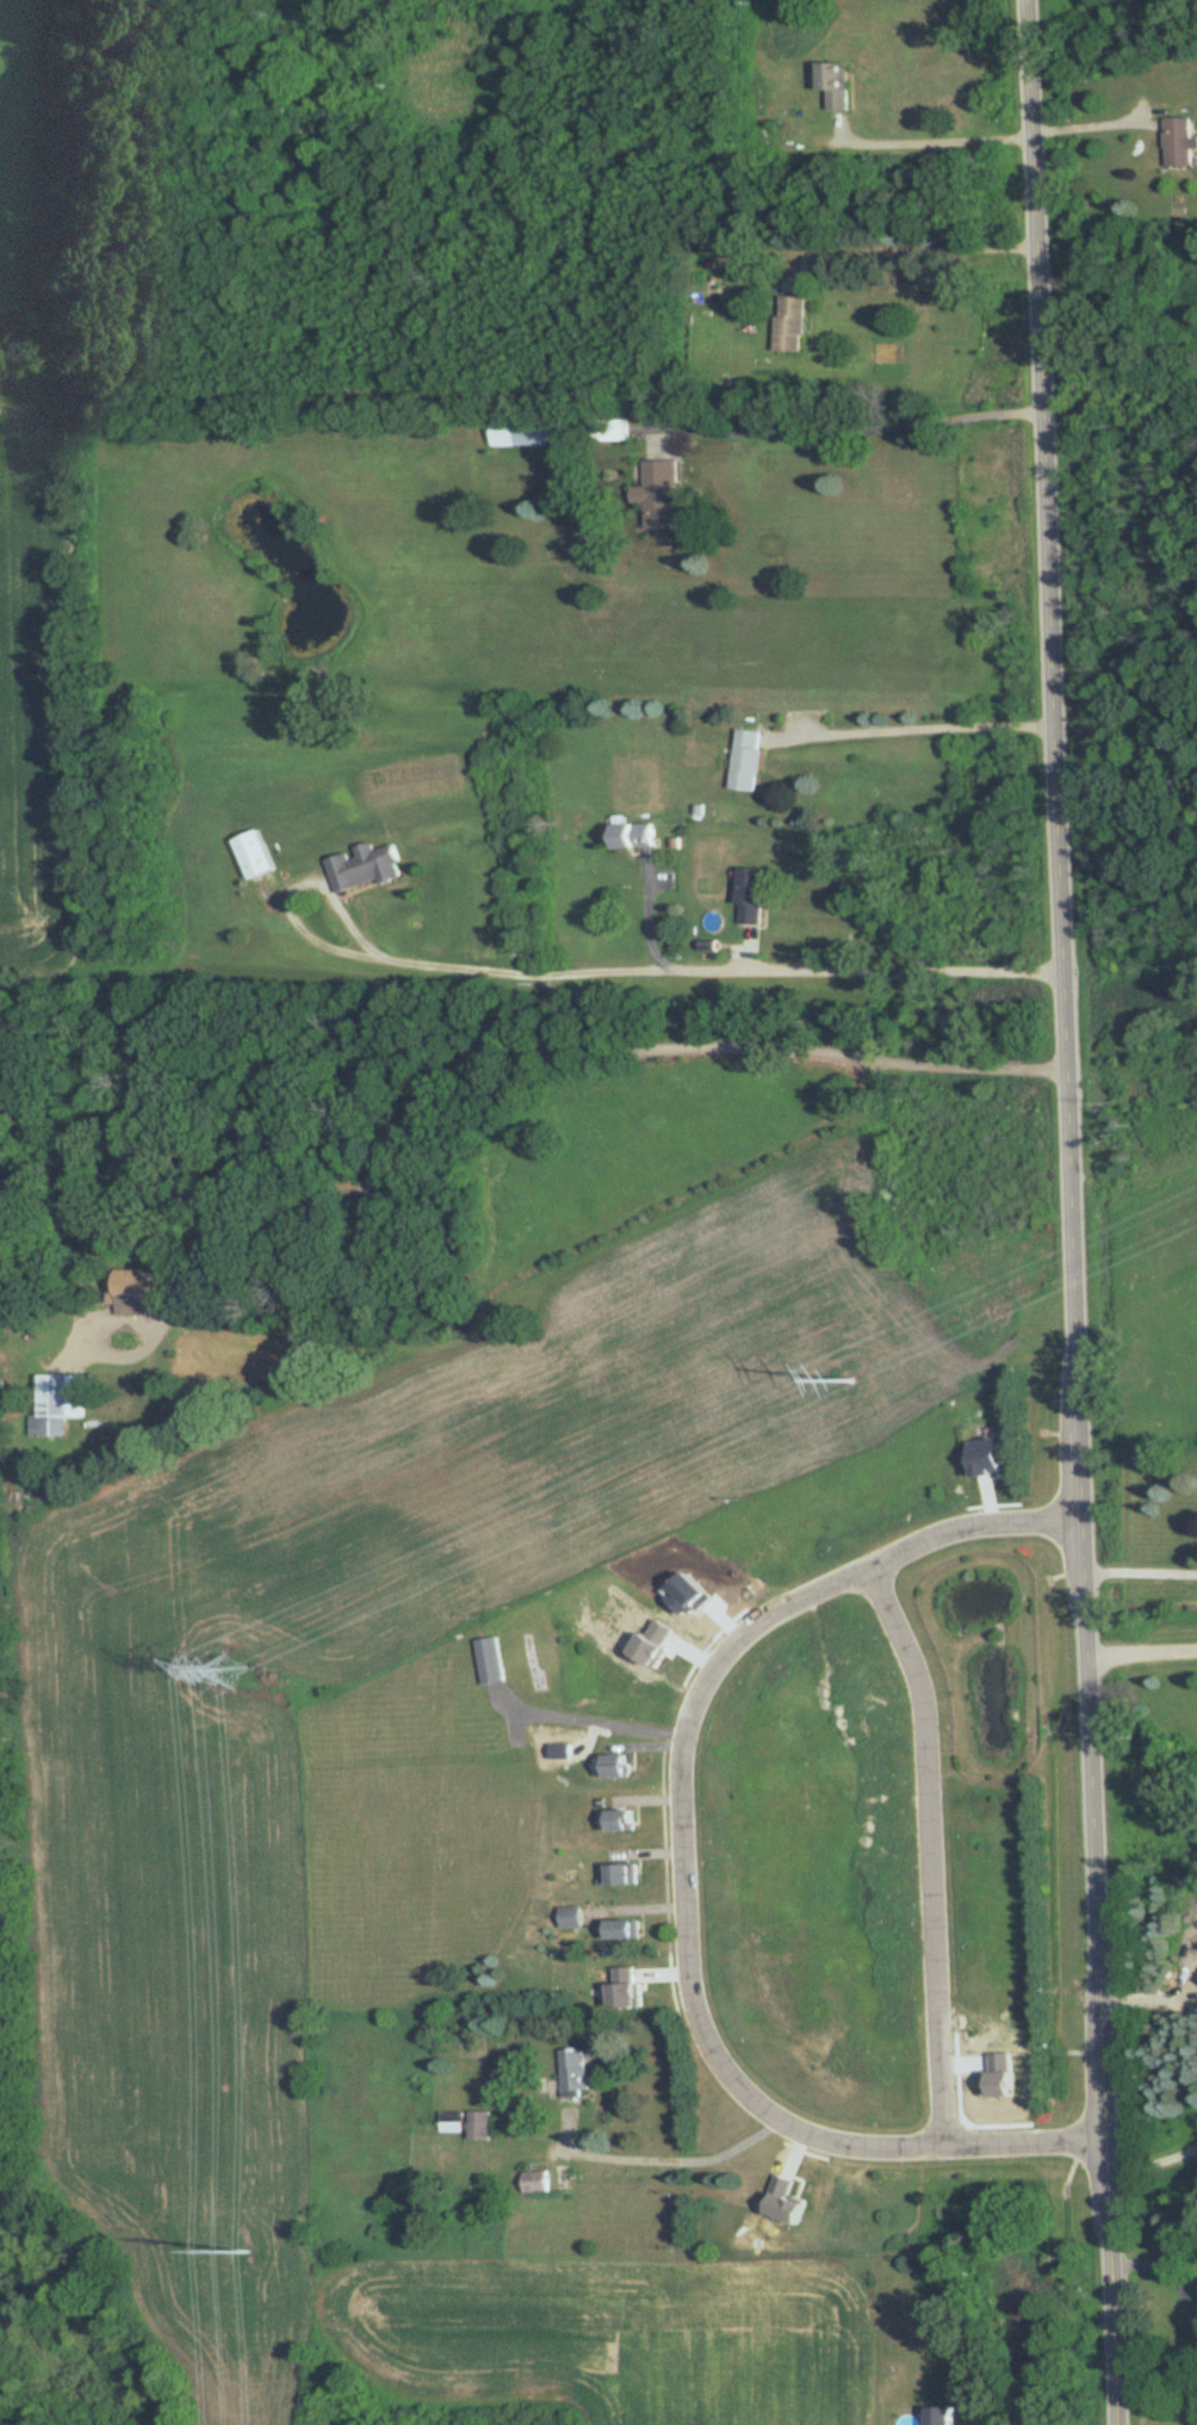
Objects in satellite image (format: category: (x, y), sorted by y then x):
building: (831, 82)
road: (1091, 129)
road: (930, 138)
building: (1178, 142)
road: (910, 245)
building: (788, 324)
road: (862, 426)
building: (516, 432)
building: (656, 496)
road: (916, 728)
building: (751, 760)
building: (637, 836)
building: (367, 867)
building: (755, 895)
road: (683, 965)
road: (538, 1045)
road: (1072, 1212)
building: (142, 1292)
power tower: (848, 1380)
building: (60, 1404)
road: (1145, 1590)
road: (1146, 1653)
building: (491, 1662)
power tower: (232, 1671)
road: (601, 1719)
building: (612, 1765)
building: (618, 1819)
road: (932, 1850)
road: (684, 1869)
building: (618, 1874)
building: (568, 1916)
building: (614, 1929)
building: (572, 2072)
building: (451, 2122)
building: (479, 2126)
road: (676, 2158)
road: (1155, 2163)
building: (535, 2178)
power tower: (248, 2251)
road: (1142, 2268)
road: (1182, 2279)
road: (1184, 2300)
building: (939, 2415)

